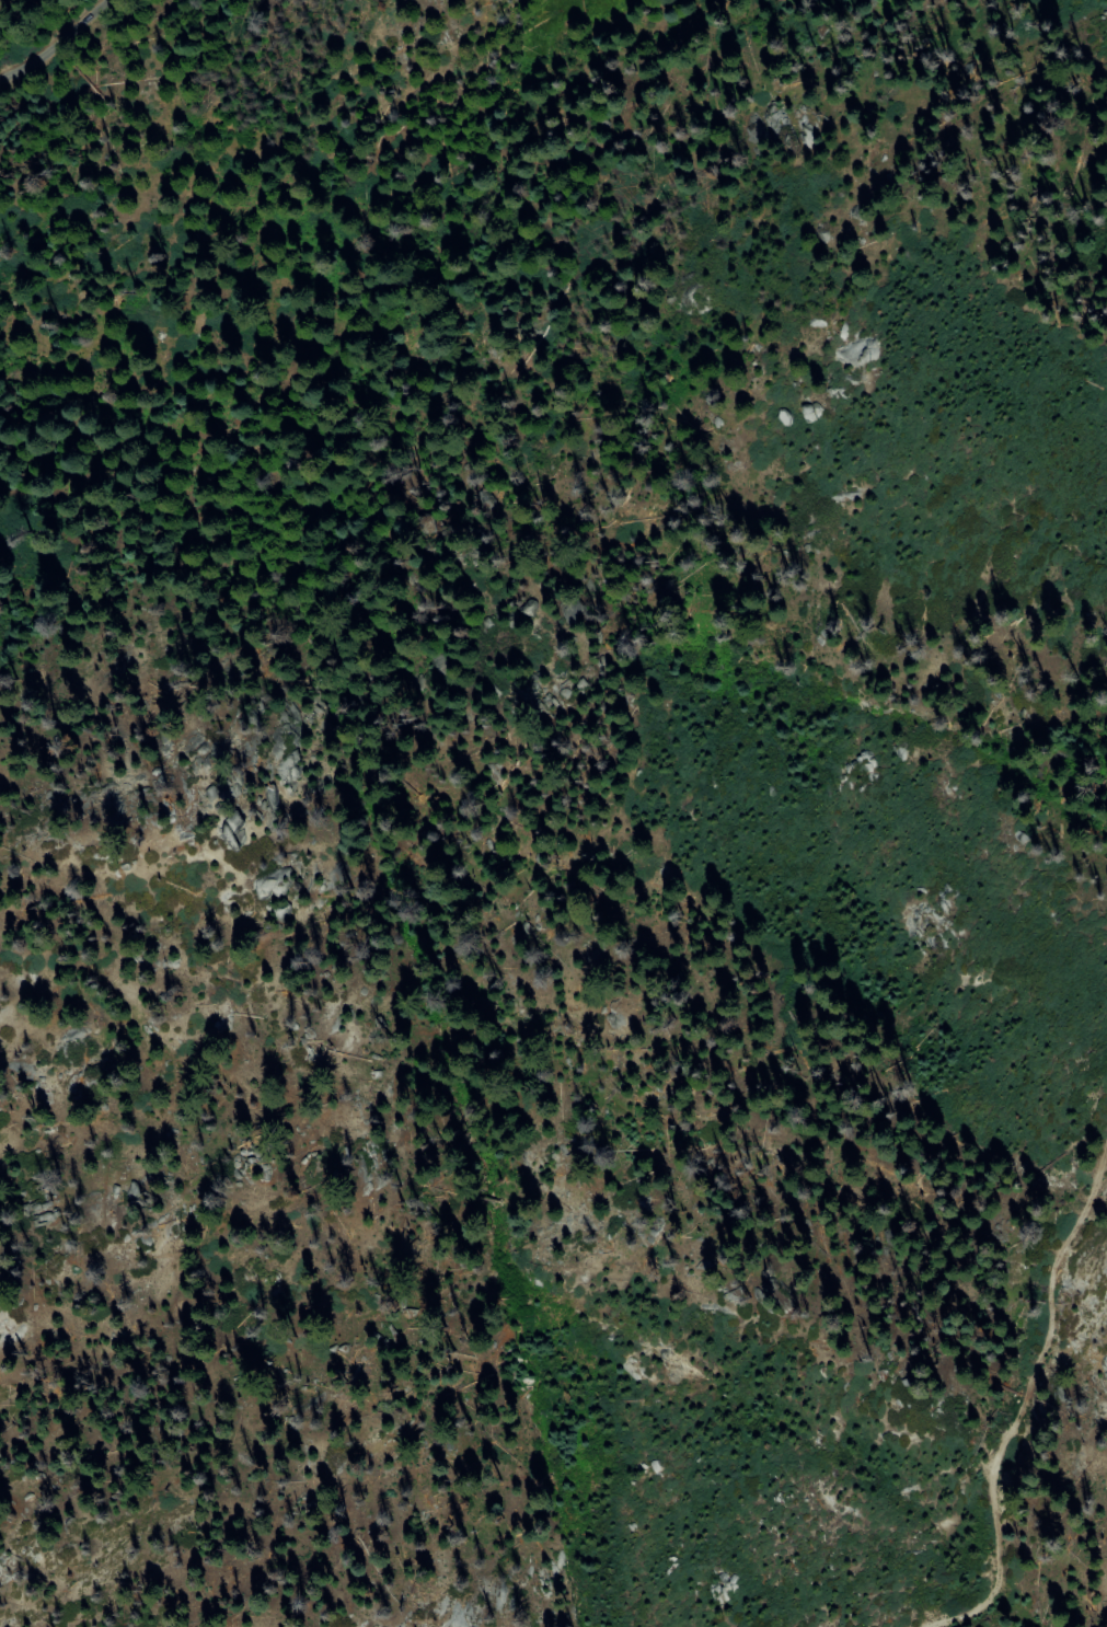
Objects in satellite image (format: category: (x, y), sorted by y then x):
road: (55, 41)
road: (1026, 1403)

